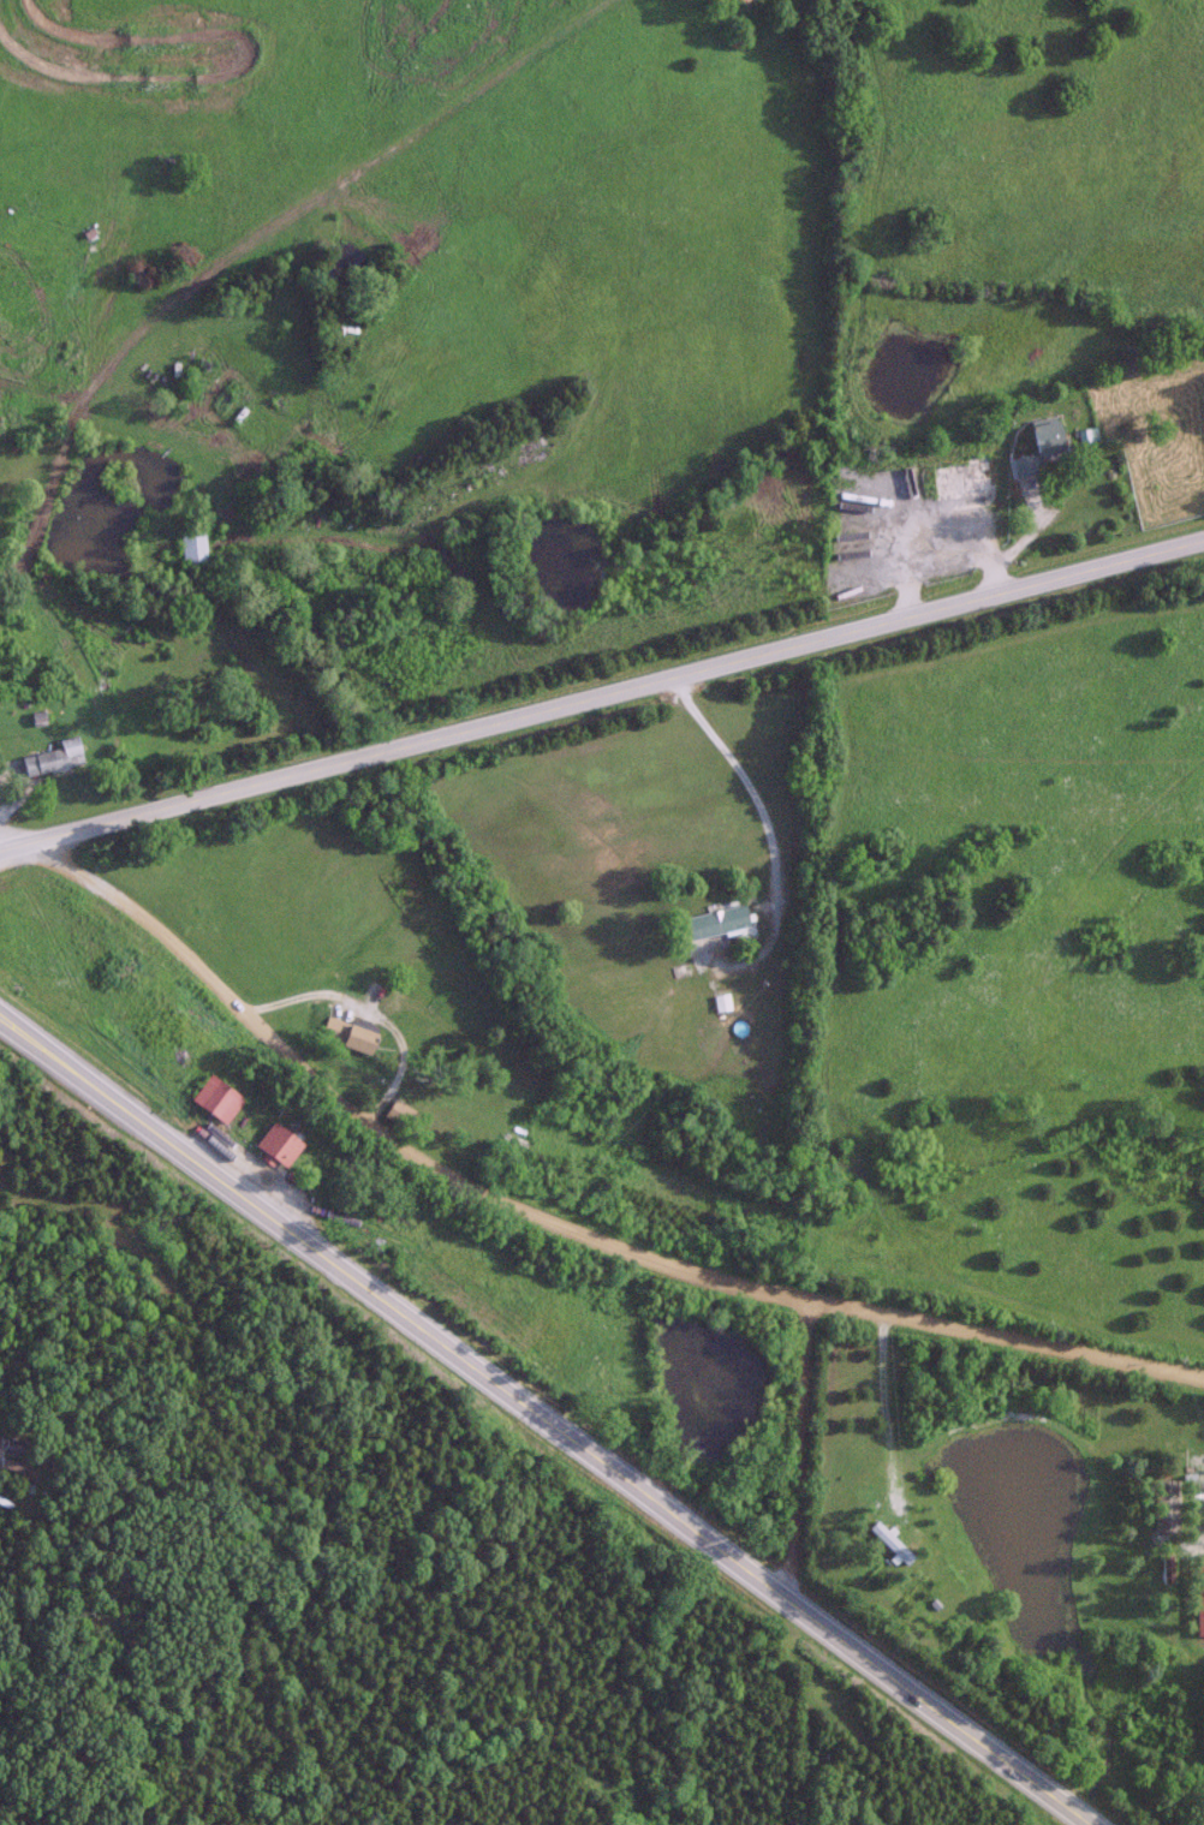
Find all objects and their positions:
building: (1037, 448)
building: (959, 477)
building: (192, 545)
road: (601, 694)
building: (52, 757)
road: (741, 779)
road: (11, 839)
building: (715, 922)
building: (346, 1034)
building: (216, 1098)
building: (393, 1110)
road: (380, 1128)
building: (276, 1144)
road: (1003, 1342)
road: (548, 1419)
building: (12, 1445)
road: (797, 1449)
building: (8, 1463)
road: (1198, 1487)
building: (1166, 1505)
building: (889, 1541)
building: (1167, 1567)
building: (1199, 1593)

